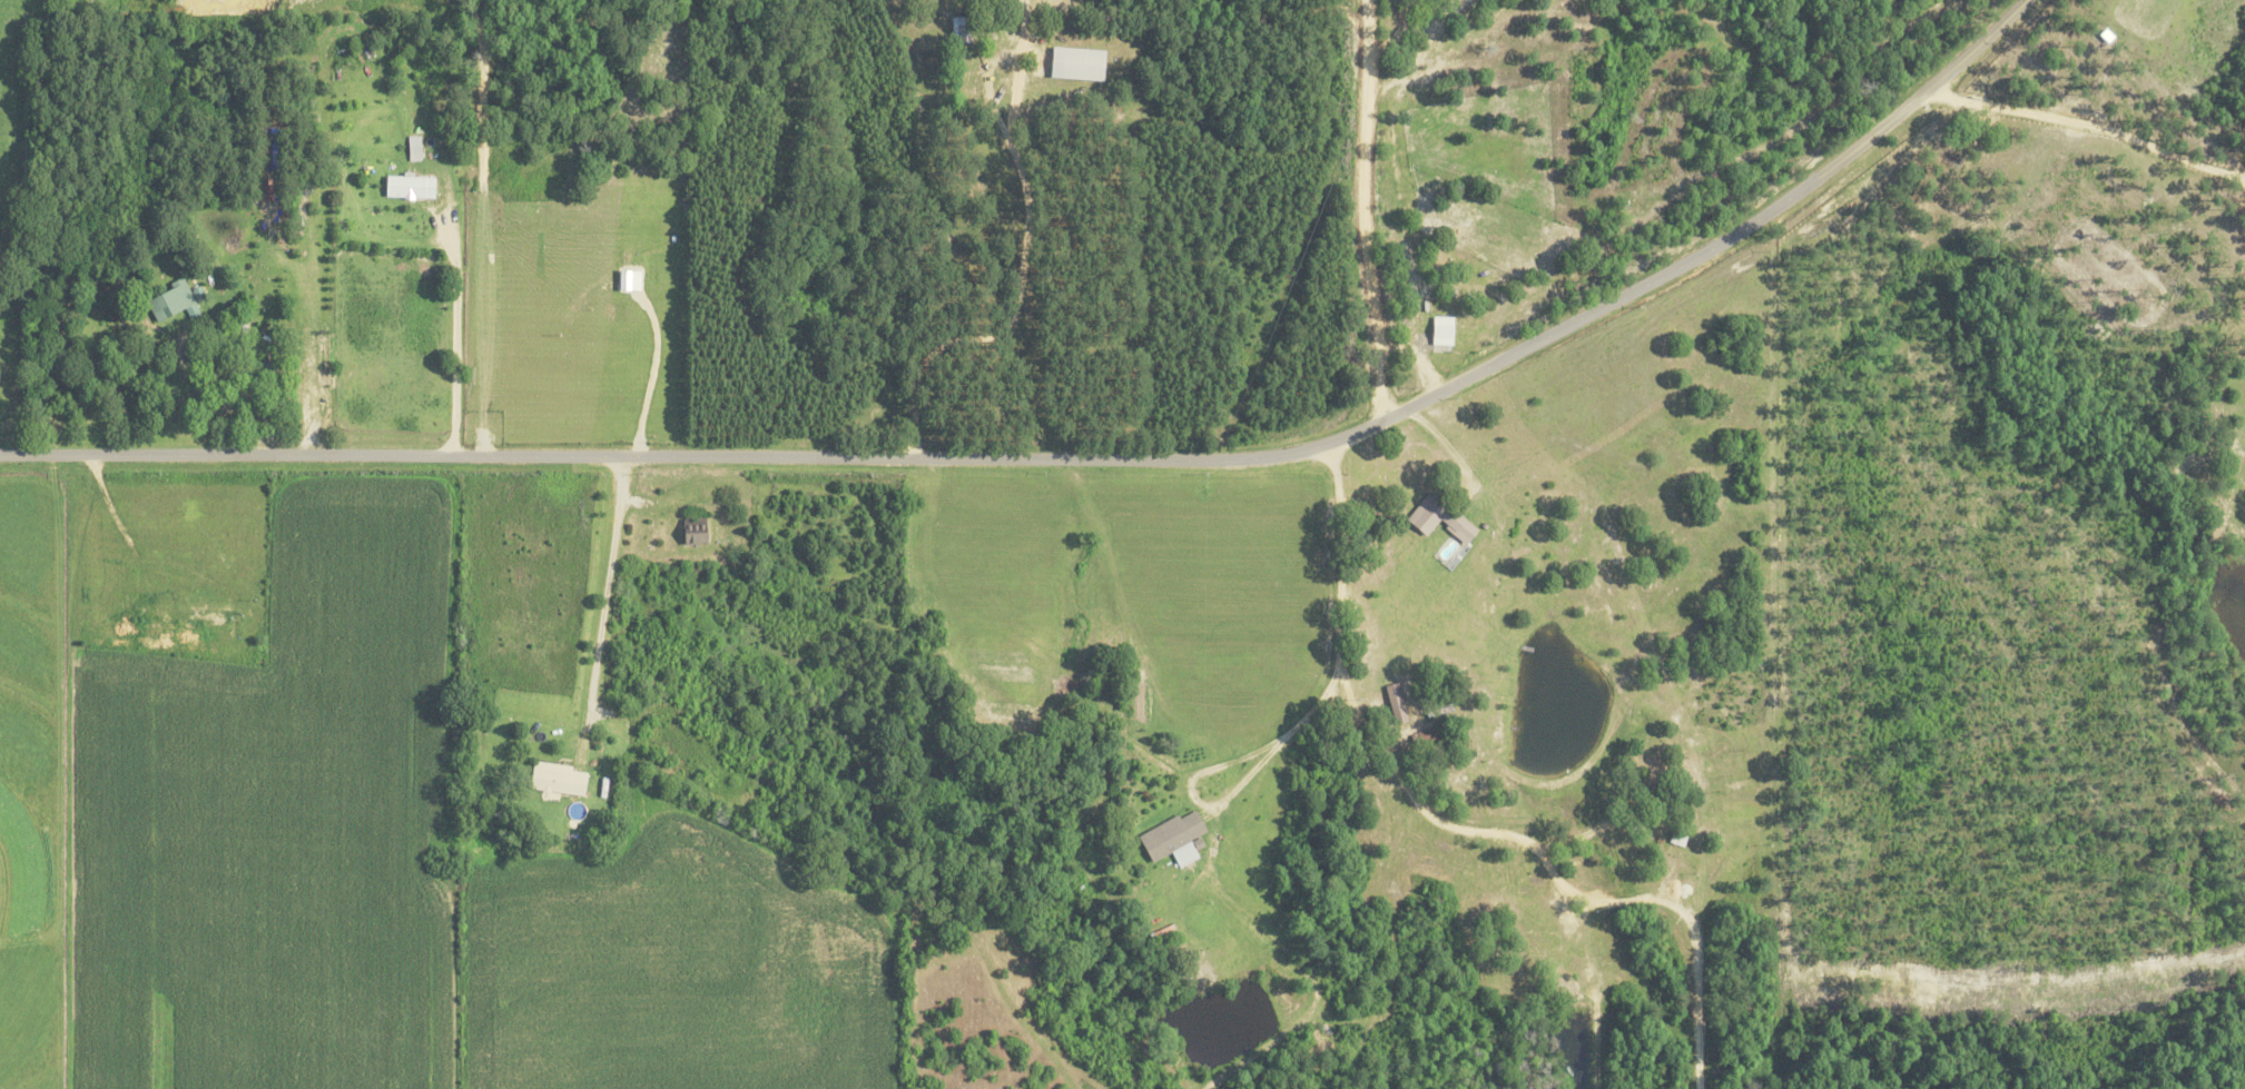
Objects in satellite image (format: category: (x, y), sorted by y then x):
building: (1074, 63)
road: (2088, 123)
road: (2238, 175)
building: (405, 187)
road: (1362, 209)
building: (626, 279)
building: (170, 300)
road: (452, 338)
road: (1445, 444)
road: (1079, 458)
building: (1437, 518)
building: (691, 533)
road: (603, 585)
building: (209, 613)
road: (205, 642)
building: (1395, 703)
road: (1359, 723)
building: (554, 778)
building: (1172, 838)

